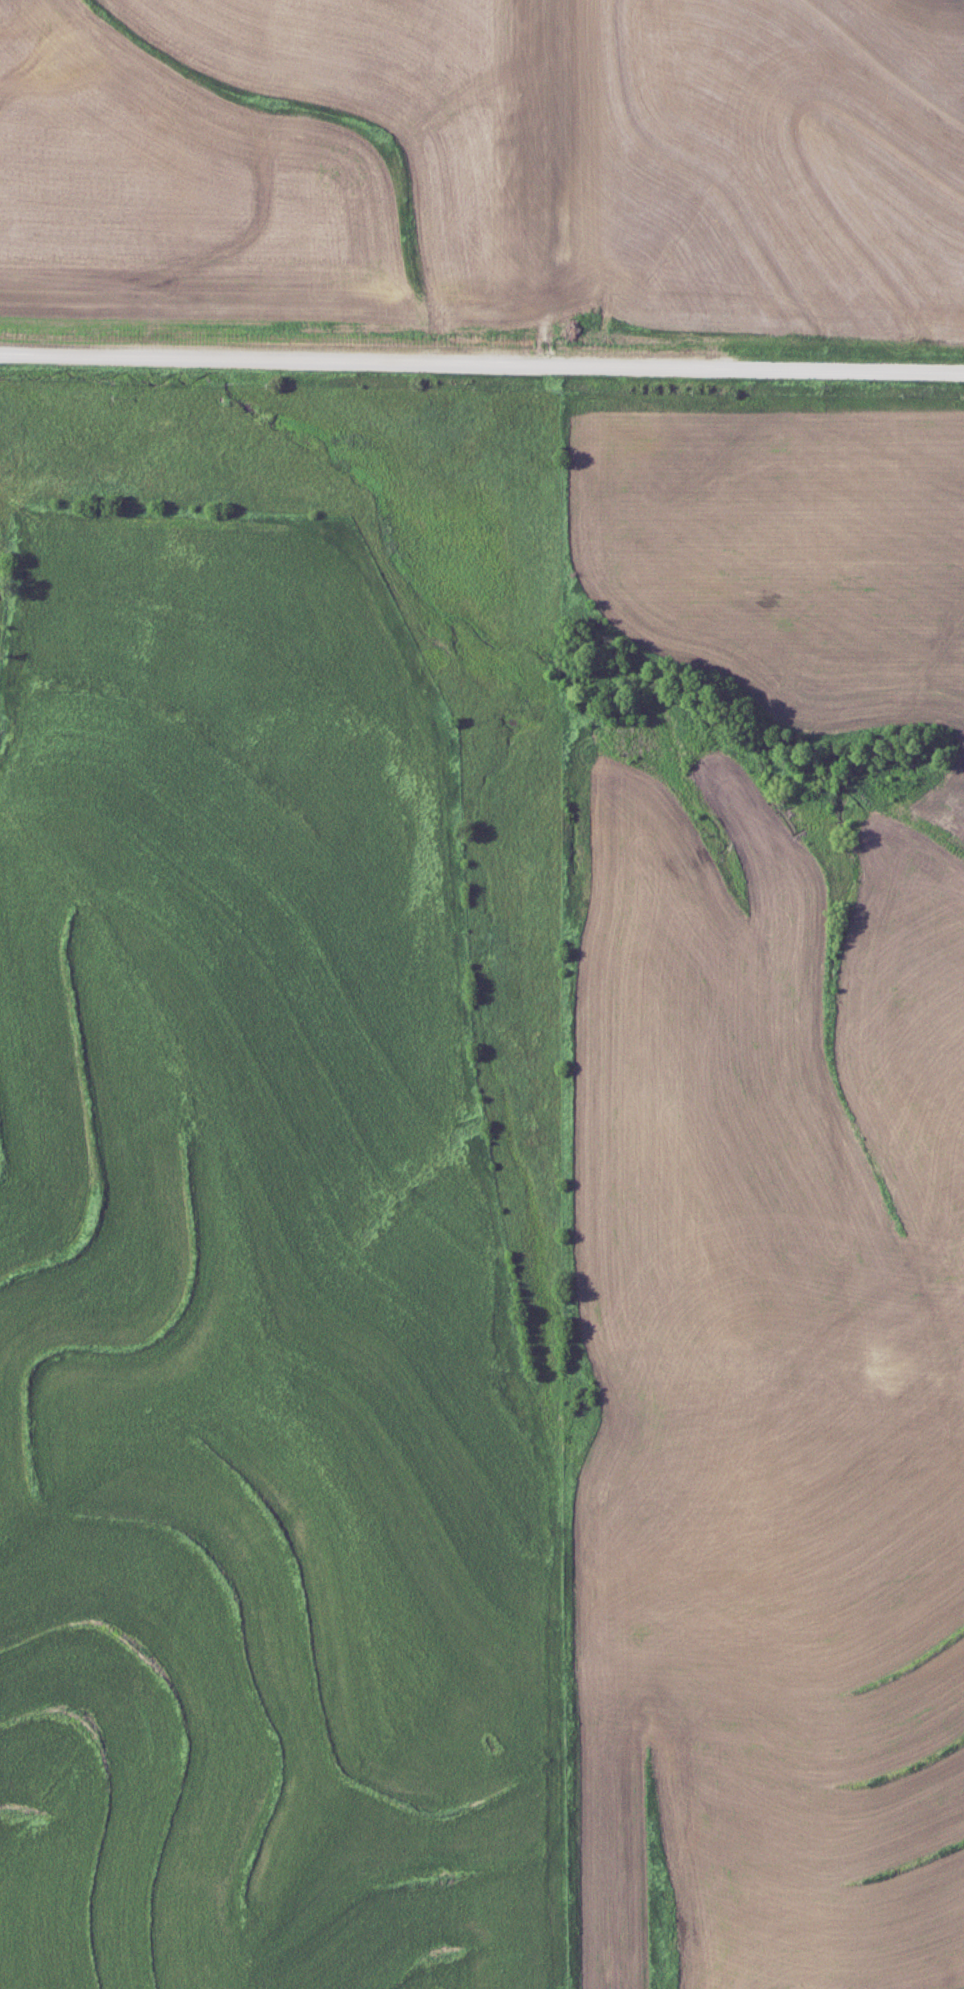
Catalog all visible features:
road: (481, 370)

